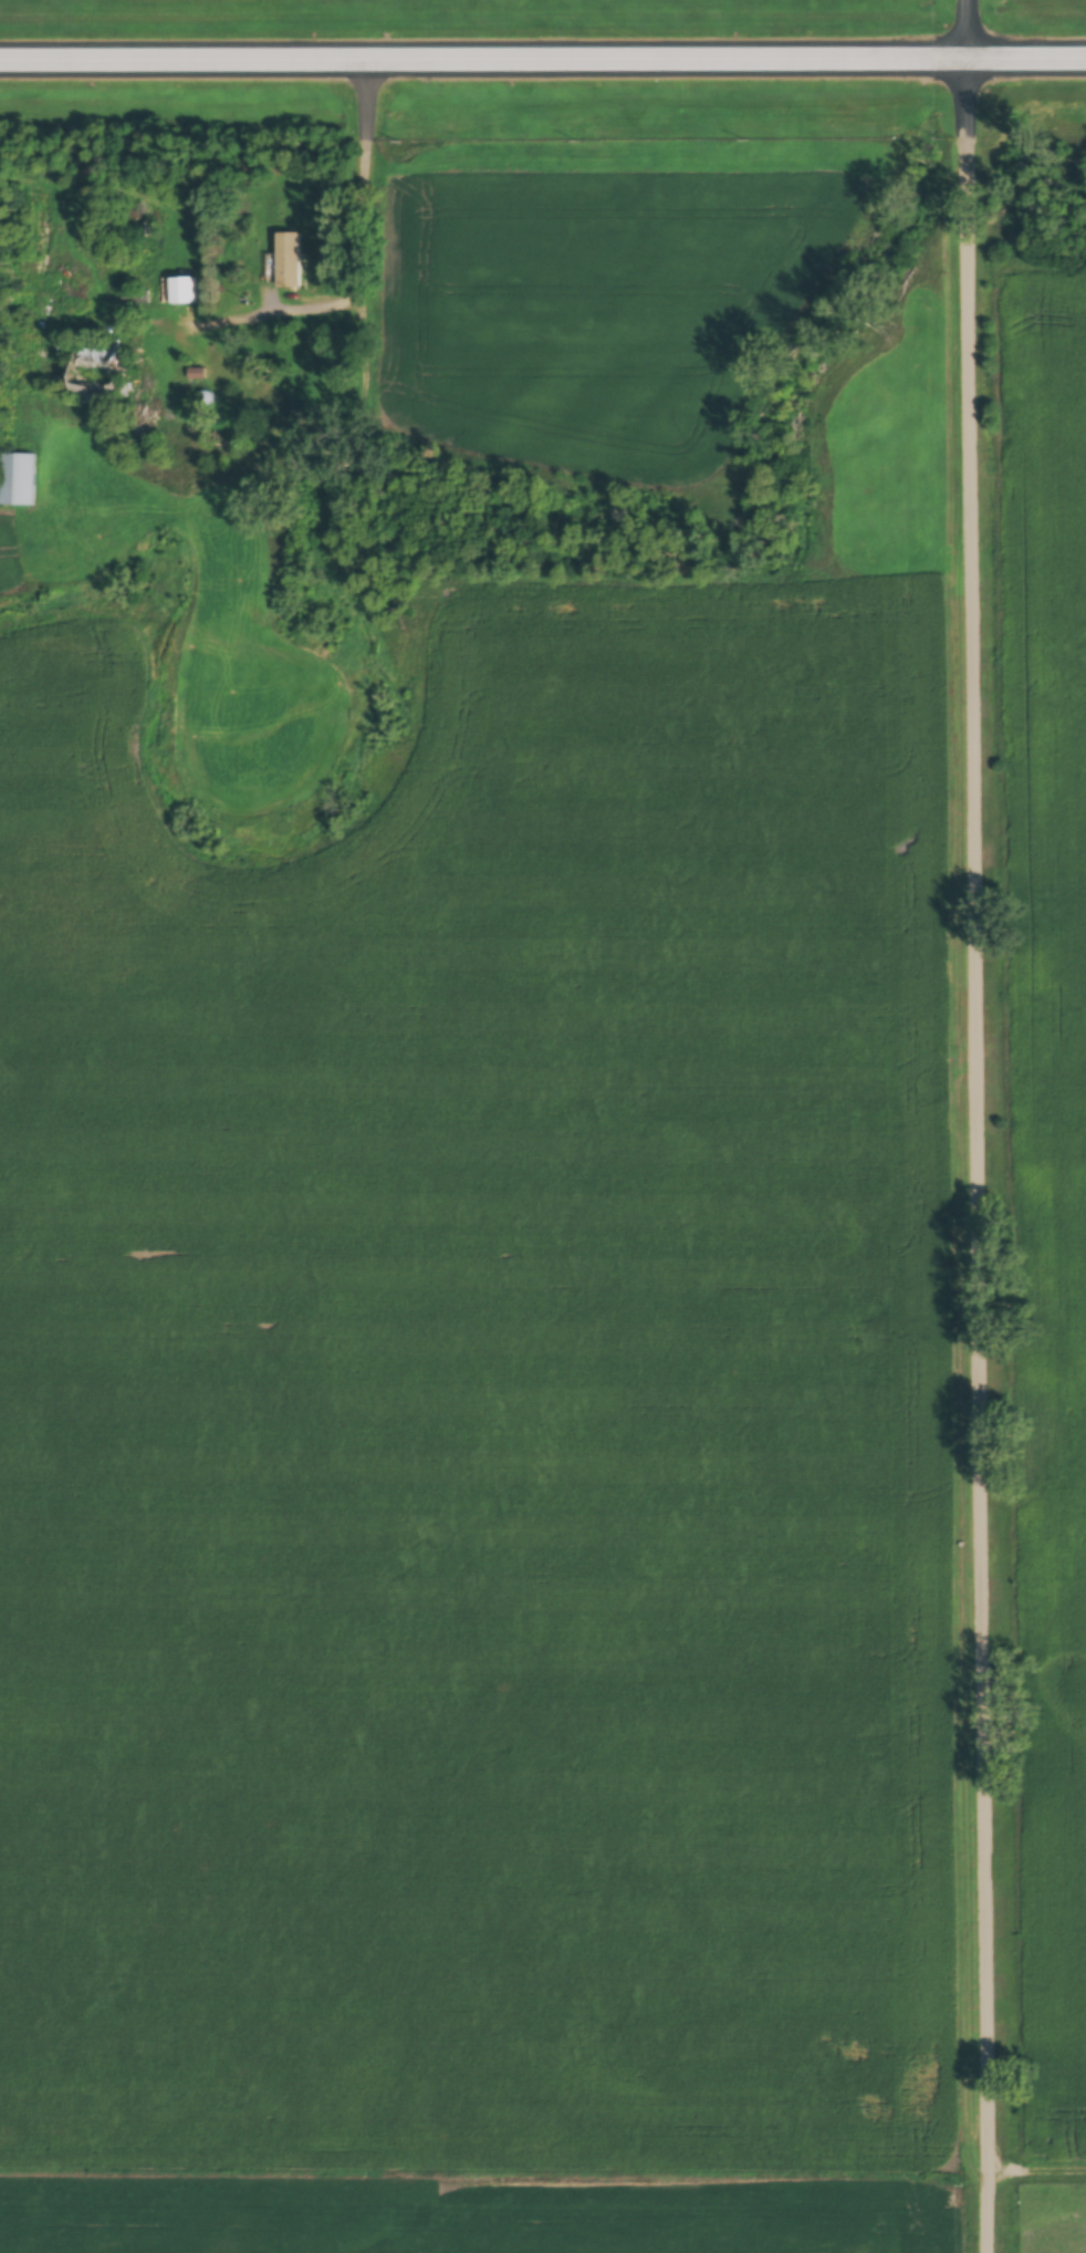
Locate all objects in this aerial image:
road: (542, 52)
road: (366, 205)
building: (288, 260)
building: (184, 290)
building: (17, 480)
road: (977, 1126)
road: (1036, 2166)

